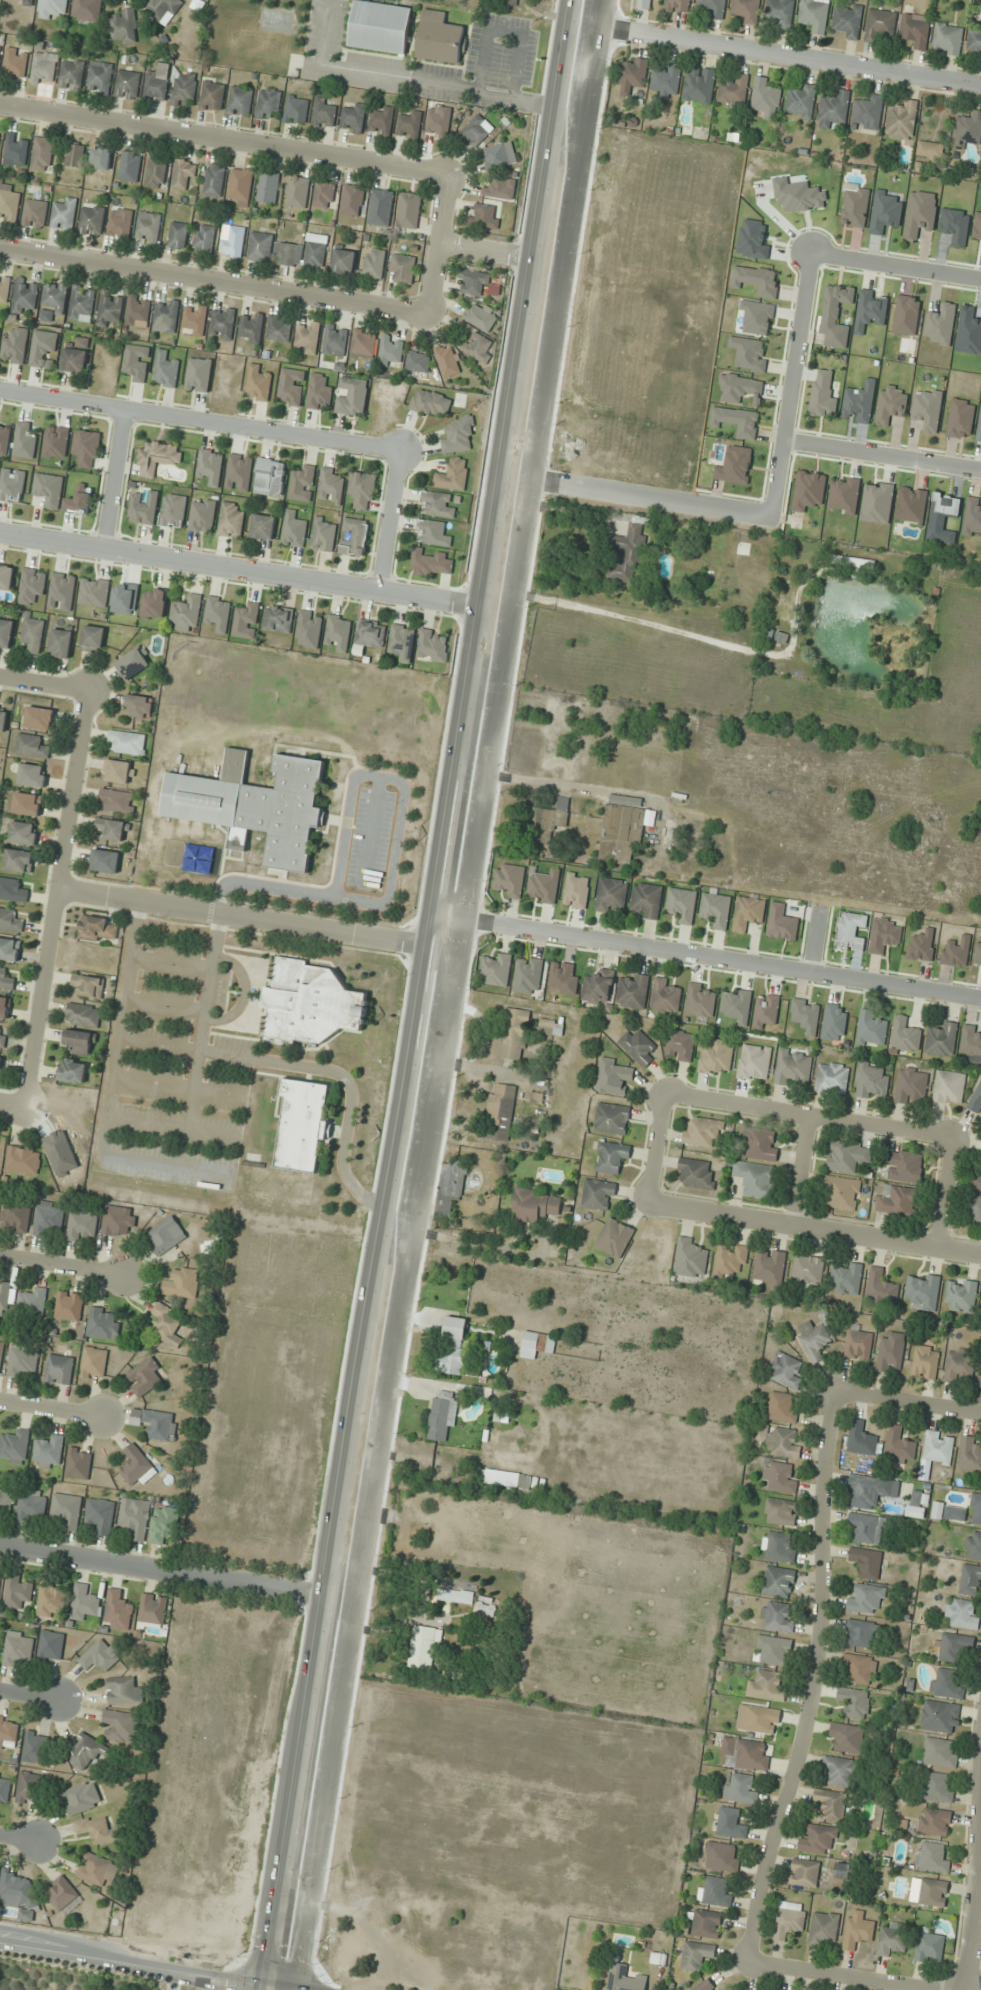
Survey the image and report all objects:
building: (22, 1)
building: (512, 2)
building: (642, 3)
building: (678, 6)
building: (163, 7)
building: (714, 7)
building: (52, 8)
building: (87, 10)
building: (747, 10)
building: (782, 12)
building: (815, 15)
building: (848, 20)
building: (880, 25)
building: (123, 27)
building: (380, 27)
building: (915, 31)
building: (440, 38)
building: (948, 39)
building: (975, 40)
building: (0, 51)
road: (781, 55)
building: (16, 63)
building: (45, 67)
building: (72, 74)
building: (633, 76)
building: (100, 77)
building: (667, 81)
building: (157, 83)
building: (127, 84)
building: (699, 85)
building: (184, 88)
building: (734, 91)
building: (212, 96)
building: (765, 99)
building: (240, 101)
building: (801, 101)
building: (268, 103)
building: (296, 110)
building: (833, 110)
building: (323, 113)
building: (868, 113)
building: (354, 117)
building: (382, 121)
building: (439, 121)
building: (903, 121)
building: (409, 125)
building: (476, 131)
building: (967, 131)
road: (223, 139)
building: (15, 150)
building: (930, 150)
building: (43, 154)
building: (75, 155)
building: (500, 156)
building: (101, 157)
building: (130, 166)
building: (156, 171)
building: (184, 175)
building: (214, 180)
building: (240, 186)
building: (268, 188)
building: (502, 188)
building: (298, 193)
building: (323, 196)
building: (352, 200)
building: (8, 202)
building: (380, 208)
building: (409, 211)
building: (35, 214)
building: (64, 215)
building: (485, 216)
building: (91, 221)
building: (120, 223)
building: (148, 228)
building: (178, 235)
building: (204, 239)
building: (232, 241)
road: (436, 243)
building: (260, 246)
road: (492, 250)
building: (288, 254)
building: (315, 254)
building: (344, 262)
building: (374, 264)
road: (895, 267)
building: (402, 269)
road: (213, 280)
building: (473, 283)
building: (4, 289)
building: (24, 296)
building: (54, 297)
building: (81, 304)
building: (109, 308)
building: (138, 312)
building: (166, 316)
building: (480, 318)
building: (194, 320)
building: (222, 324)
building: (252, 327)
building: (279, 329)
building: (307, 338)
building: (334, 341)
building: (363, 344)
building: (478, 347)
building: (391, 351)
building: (75, 360)
building: (447, 361)
building: (417, 364)
building: (165, 371)
building: (198, 375)
building: (258, 384)
road: (790, 385)
building: (291, 387)
building: (320, 391)
building: (823, 395)
building: (352, 397)
building: (431, 403)
building: (859, 403)
road: (200, 419)
building: (459, 435)
building: (4, 438)
building: (25, 440)
building: (87, 448)
road: (881, 452)
building: (157, 458)
building: (210, 466)
building: (239, 472)
building: (453, 475)
building: (270, 477)
road: (114, 478)
building: (302, 484)
building: (12, 485)
building: (330, 485)
building: (362, 489)
building: (48, 490)
road: (642, 494)
building: (80, 502)
building: (436, 504)
building: (143, 507)
building: (173, 511)
building: (202, 515)
road: (389, 518)
building: (231, 520)
building: (262, 528)
building: (293, 530)
building: (433, 533)
building: (324, 534)
building: (356, 537)
building: (628, 554)
building: (749, 562)
building: (432, 563)
building: (854, 565)
road: (246, 568)
building: (6, 577)
building: (93, 592)
building: (154, 603)
building: (218, 612)
building: (186, 614)
building: (278, 619)
building: (247, 620)
building: (339, 632)
building: (6, 633)
building: (33, 633)
building: (370, 633)
building: (92, 638)
building: (61, 642)
building: (402, 642)
building: (433, 646)
building: (133, 664)
road: (44, 683)
building: (139, 706)
building: (38, 718)
building: (3, 720)
building: (128, 742)
building: (31, 746)
building: (119, 771)
building: (32, 775)
building: (117, 801)
building: (26, 804)
building: (255, 806)
building: (548, 823)
building: (112, 829)
building: (23, 833)
building: (621, 833)
building: (19, 860)
building: (105, 861)
building: (509, 879)
building: (12, 890)
building: (610, 894)
road: (57, 900)
building: (647, 900)
building: (682, 904)
building: (716, 910)
building: (748, 912)
road: (251, 919)
building: (9, 920)
building: (782, 923)
building: (98, 929)
building: (851, 930)
building: (884, 935)
road: (816, 939)
building: (9, 949)
road: (714, 957)
building: (495, 970)
building: (5, 979)
building: (89, 985)
building: (598, 986)
building: (633, 991)
road: (435, 995)
building: (665, 996)
building: (700, 1000)
building: (312, 1003)
building: (4, 1007)
building: (766, 1011)
building: (83, 1015)
building: (551, 1027)
building: (871, 1029)
building: (515, 1034)
building: (905, 1035)
building: (2, 1038)
building: (942, 1040)
building: (81, 1042)
building: (680, 1045)
building: (639, 1047)
building: (715, 1057)
building: (754, 1063)
building: (0, 1064)
building: (793, 1067)
building: (72, 1071)
building: (614, 1077)
building: (832, 1078)
building: (871, 1081)
building: (911, 1085)
building: (949, 1088)
building: (976, 1099)
road: (12, 1107)
building: (500, 1112)
road: (810, 1118)
building: (612, 1119)
building: (302, 1125)
building: (703, 1131)
building: (760, 1144)
road: (659, 1149)
building: (848, 1155)
building: (612, 1157)
building: (23, 1159)
building: (904, 1166)
building: (697, 1173)
road: (804, 1173)
building: (755, 1179)
building: (977, 1181)
building: (448, 1188)
building: (843, 1192)
building: (599, 1194)
road: (947, 1194)
building: (896, 1201)
building: (535, 1204)
building: (975, 1212)
building: (16, 1217)
building: (49, 1218)
building: (119, 1220)
building: (82, 1225)
road: (815, 1230)
building: (165, 1235)
building: (614, 1238)
building: (690, 1258)
building: (730, 1259)
building: (769, 1266)
road: (65, 1267)
building: (808, 1269)
building: (846, 1278)
building: (182, 1283)
building: (881, 1288)
building: (923, 1291)
building: (961, 1295)
building: (6, 1297)
building: (33, 1300)
building: (69, 1305)
building: (103, 1323)
building: (166, 1325)
building: (814, 1340)
building: (859, 1343)
building: (537, 1344)
building: (454, 1347)
building: (1, 1350)
building: (891, 1352)
building: (22, 1362)
building: (926, 1362)
building: (94, 1363)
building: (960, 1364)
building: (59, 1369)
building: (787, 1370)
building: (144, 1377)
building: (980, 1385)
road: (909, 1405)
building: (781, 1408)
road: (53, 1409)
building: (443, 1416)
building: (160, 1424)
building: (491, 1436)
building: (861, 1439)
building: (779, 1441)
building: (15, 1446)
building: (899, 1446)
building: (937, 1450)
building: (49, 1451)
building: (970, 1456)
building: (79, 1463)
building: (137, 1466)
building: (503, 1478)
building: (780, 1478)
building: (527, 1482)
building: (872, 1490)
building: (6, 1498)
building: (31, 1506)
building: (975, 1509)
building: (67, 1510)
building: (781, 1511)
building: (949, 1512)
building: (100, 1515)
building: (135, 1518)
building: (164, 1524)
building: (868, 1528)
building: (974, 1546)
building: (779, 1547)
building: (867, 1562)
road: (172, 1571)
building: (971, 1580)
building: (778, 1582)
building: (17, 1591)
building: (457, 1596)
building: (866, 1598)
building: (51, 1599)
building: (85, 1603)
building: (487, 1606)
building: (153, 1609)
building: (118, 1610)
building: (962, 1614)
building: (777, 1617)
building: (0, 1630)
building: (860, 1633)
building: (51, 1645)
building: (426, 1647)
building: (18, 1648)
building: (954, 1648)
building: (770, 1650)
building: (100, 1656)
building: (858, 1667)
road: (817, 1684)
building: (947, 1684)
building: (124, 1690)
road: (32, 1696)
building: (855, 1702)
building: (941, 1716)
building: (758, 1718)
building: (122, 1726)
building: (9, 1733)
building: (847, 1737)
building: (34, 1747)
building: (86, 1750)
building: (941, 1753)
building: (745, 1754)
building: (840, 1770)
building: (30, 1787)
building: (939, 1787)
building: (741, 1788)
building: (5, 1789)
building: (82, 1797)
building: (832, 1804)
building: (935, 1821)
building: (731, 1823)
building: (98, 1830)
road: (19, 1838)
building: (819, 1839)
building: (239, 1851)
building: (723, 1856)
building: (932, 1857)
building: (261, 1858)
building: (97, 1869)
building: (843, 1870)
building: (805, 1873)
building: (18, 1890)
building: (715, 1891)
building: (930, 1892)
building: (63, 1895)
building: (790, 1919)
building: (706, 1924)
road: (975, 1928)
building: (824, 1929)
building: (859, 1929)
building: (893, 1938)
building: (930, 1948)
building: (696, 1955)
road: (140, 1965)
building: (624, 1978)
road: (838, 1978)
building: (705, 1985)
traffic signals: (281, 1989)

